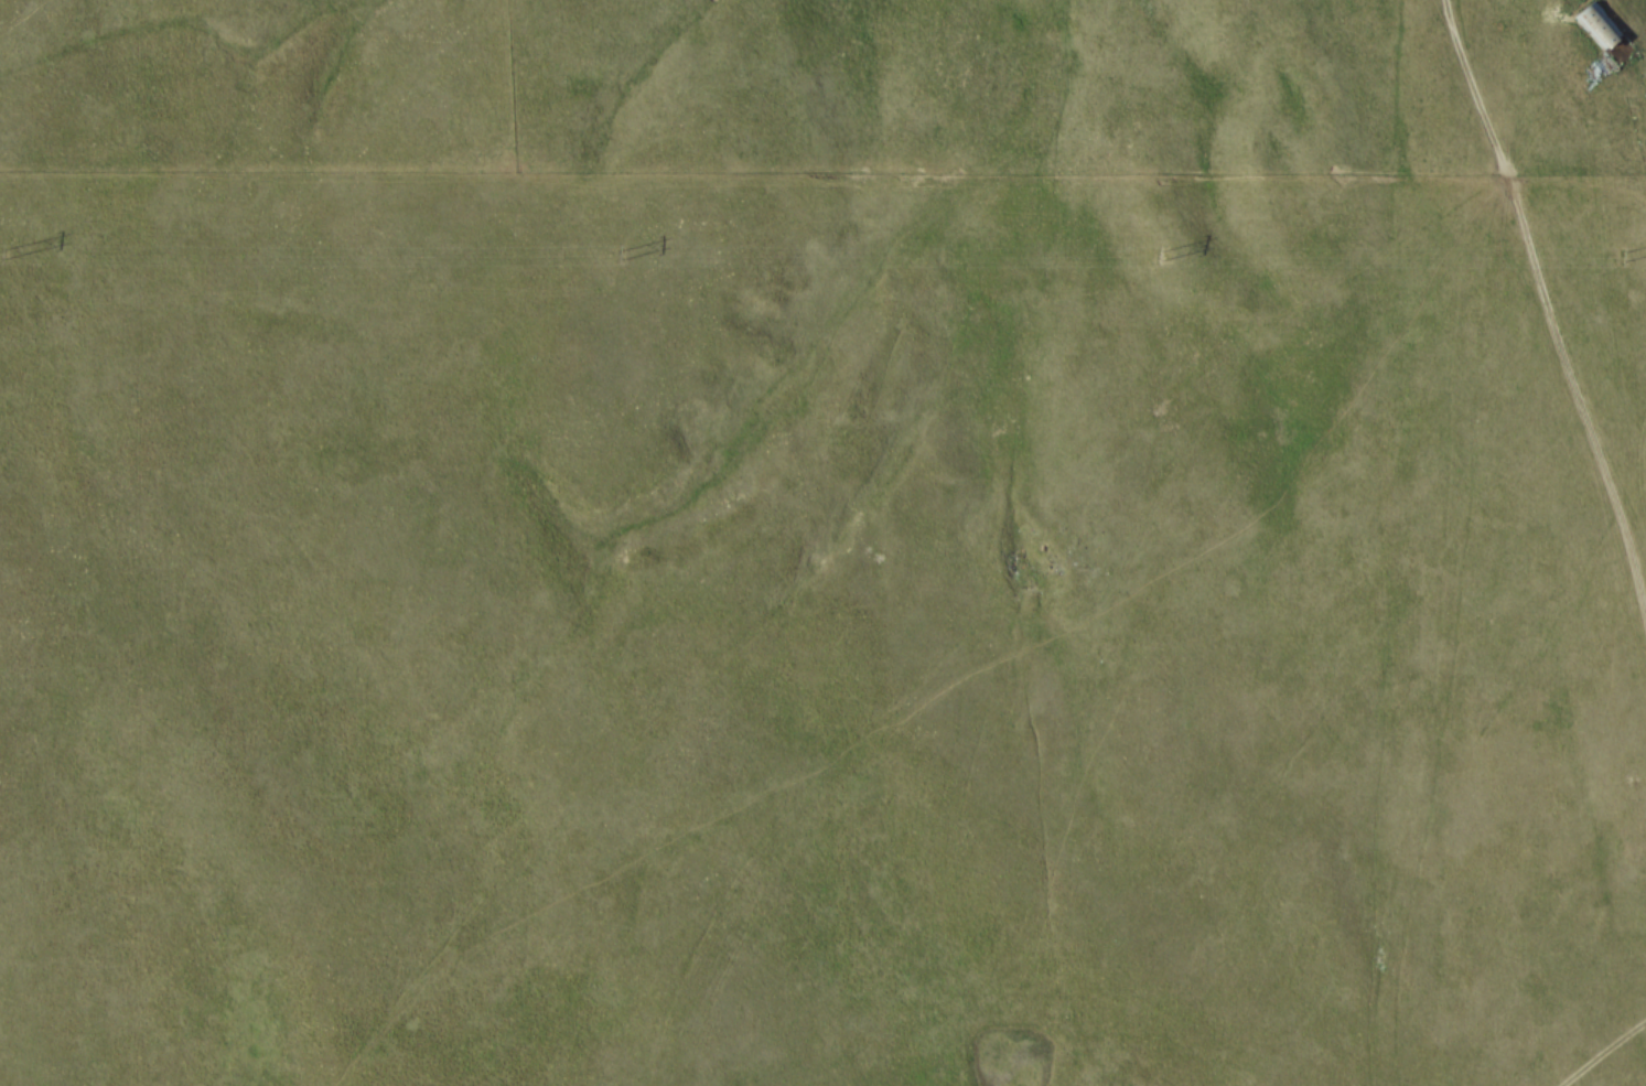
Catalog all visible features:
building: (1606, 34)
power tower: (6, 256)
power tower: (622, 256)
power tower: (1162, 258)
power tower: (1625, 258)
road: (1532, 301)

